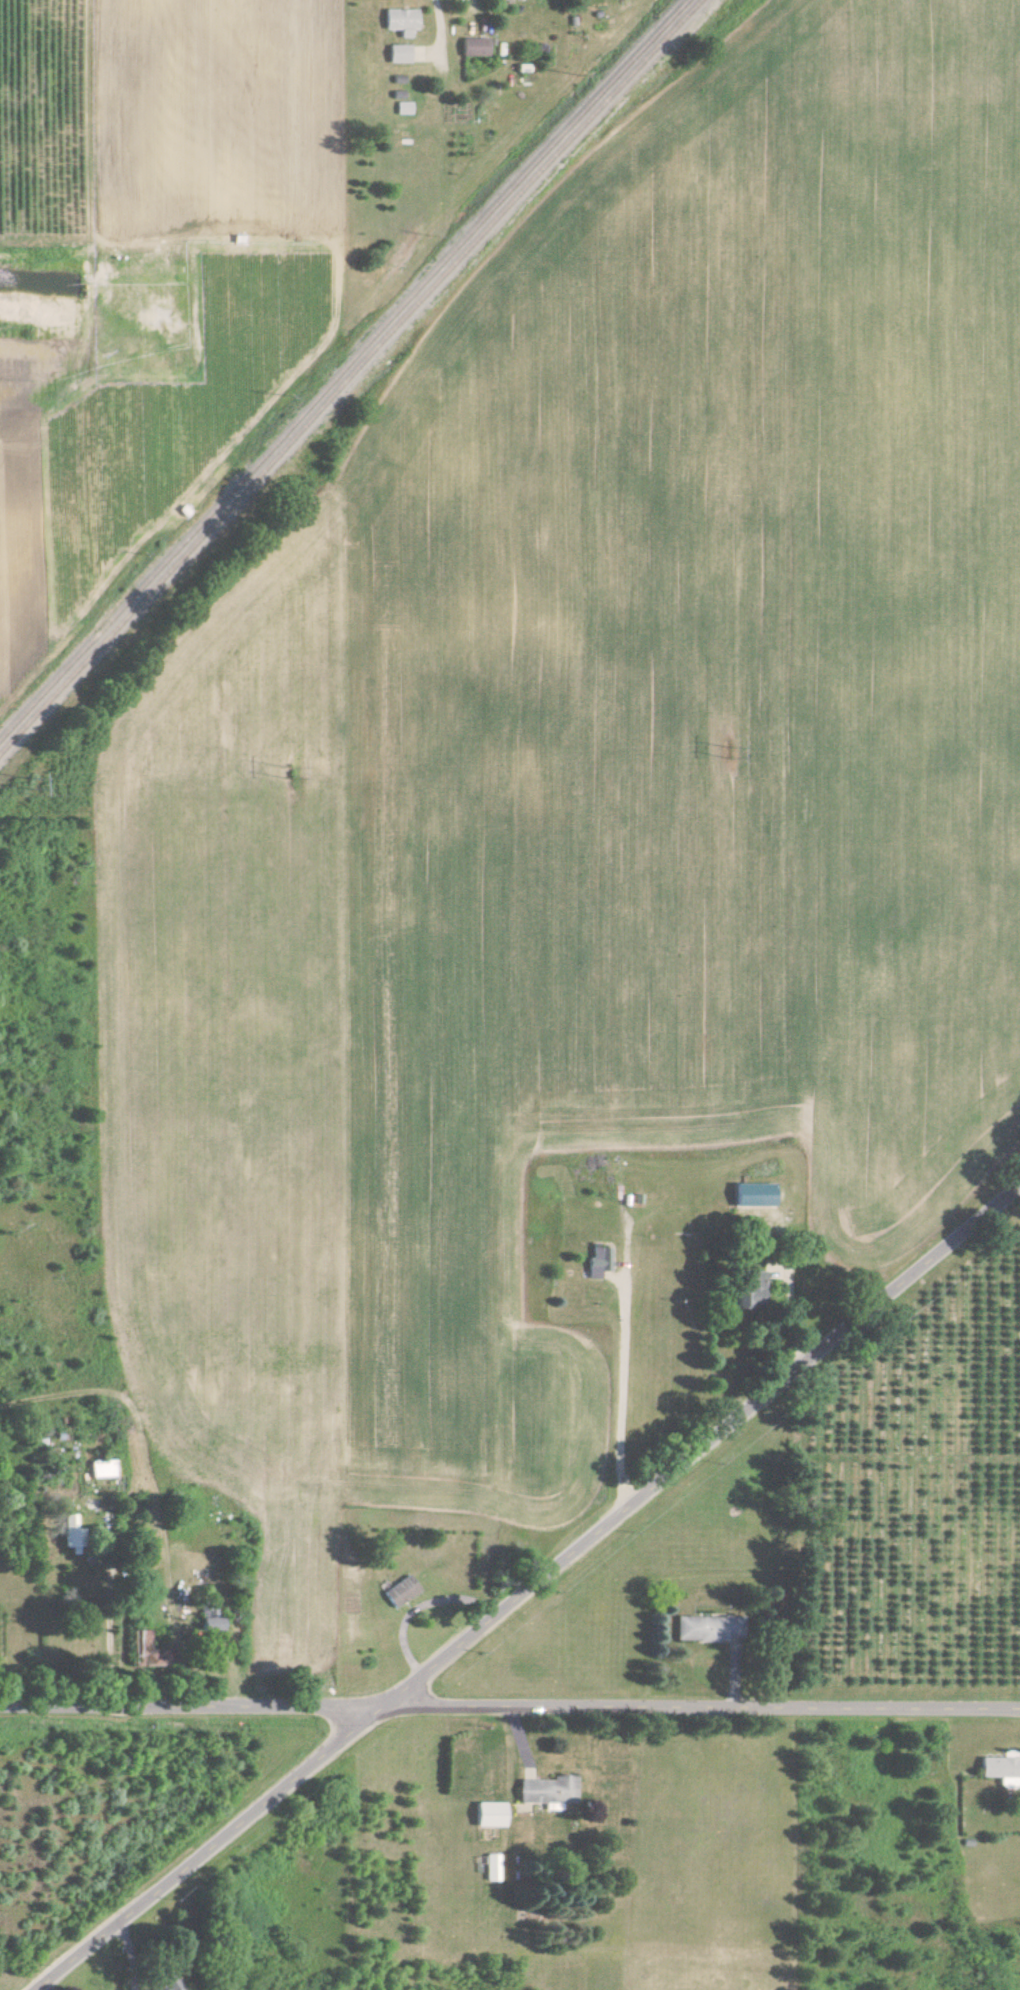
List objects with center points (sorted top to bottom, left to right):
building: (400, 21)
road: (440, 27)
building: (474, 47)
building: (398, 54)
building: (404, 108)
railway: (342, 369)
railway: (349, 376)
power tower: (736, 752)
power tower: (309, 771)
power tower: (39, 784)
building: (753, 1195)
building: (598, 1262)
road: (790, 1299)
road: (629, 1399)
building: (100, 1469)
building: (70, 1535)
road: (530, 1590)
building: (400, 1592)
road: (425, 1604)
road: (110, 1611)
building: (707, 1629)
road: (509, 1710)
building: (1002, 1770)
building: (547, 1791)
building: (488, 1815)
building: (490, 1868)
building: (164, 1985)

